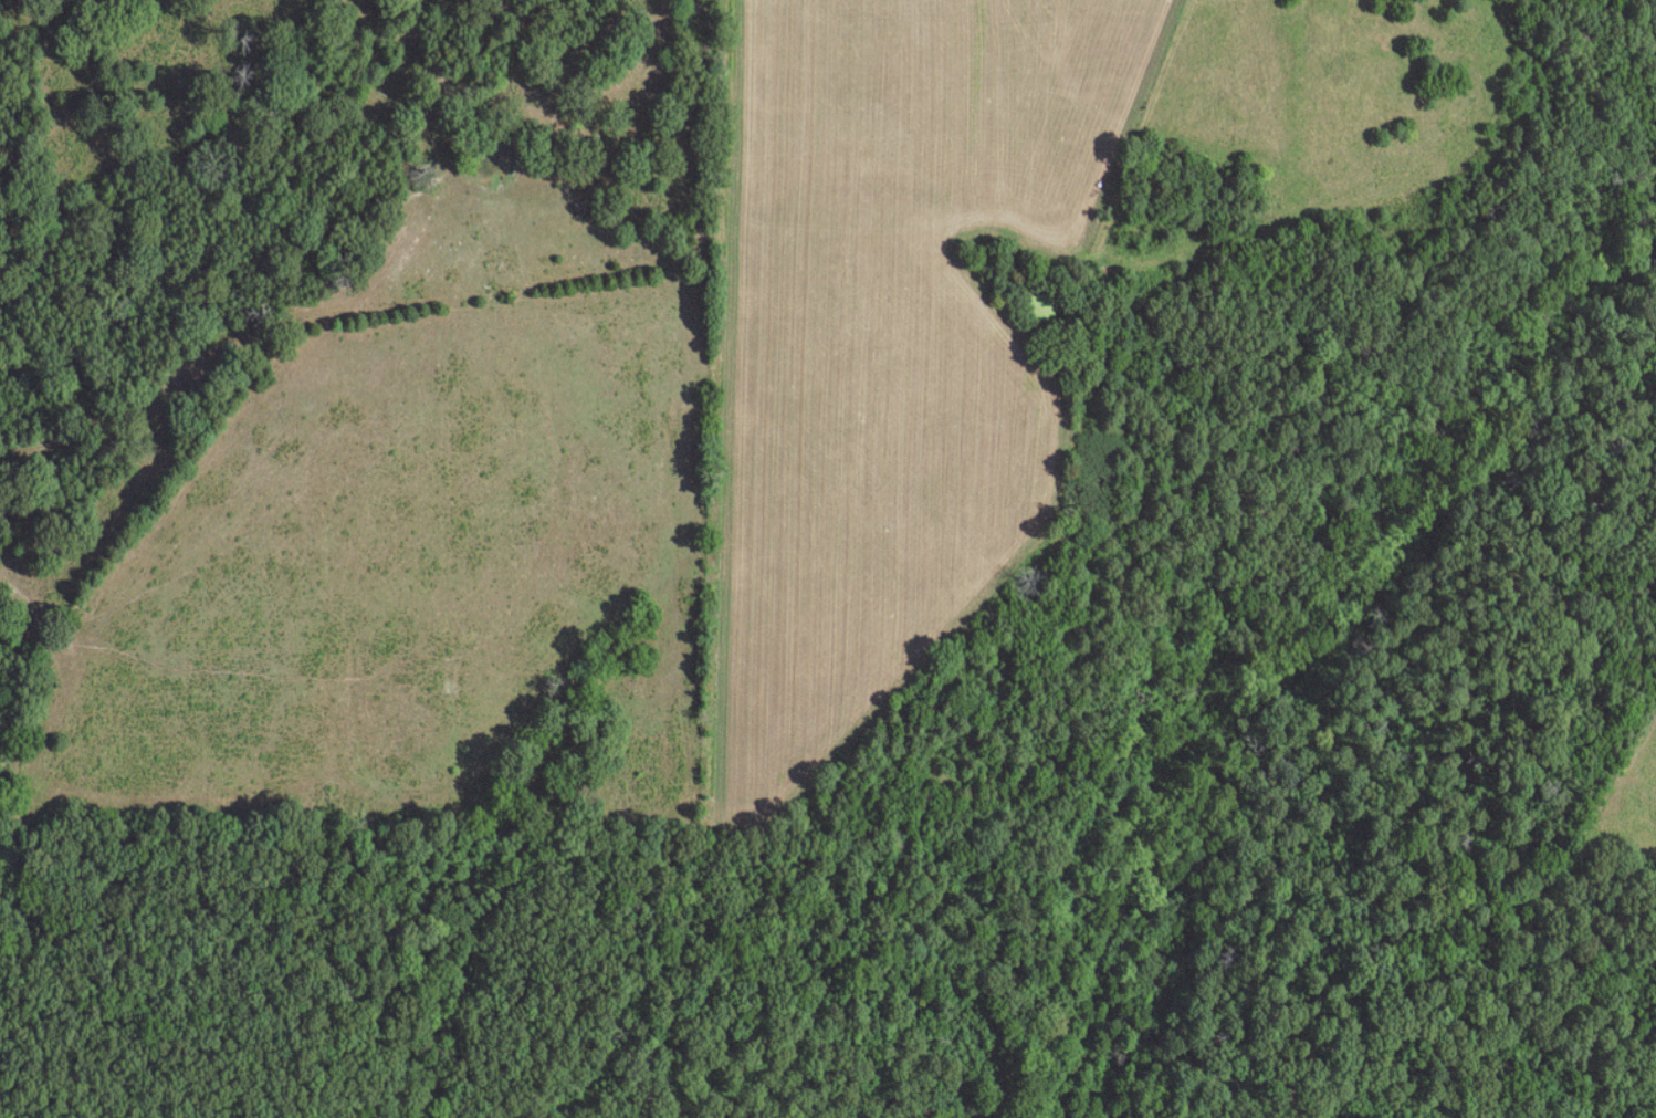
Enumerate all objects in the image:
road: (877, 724)

